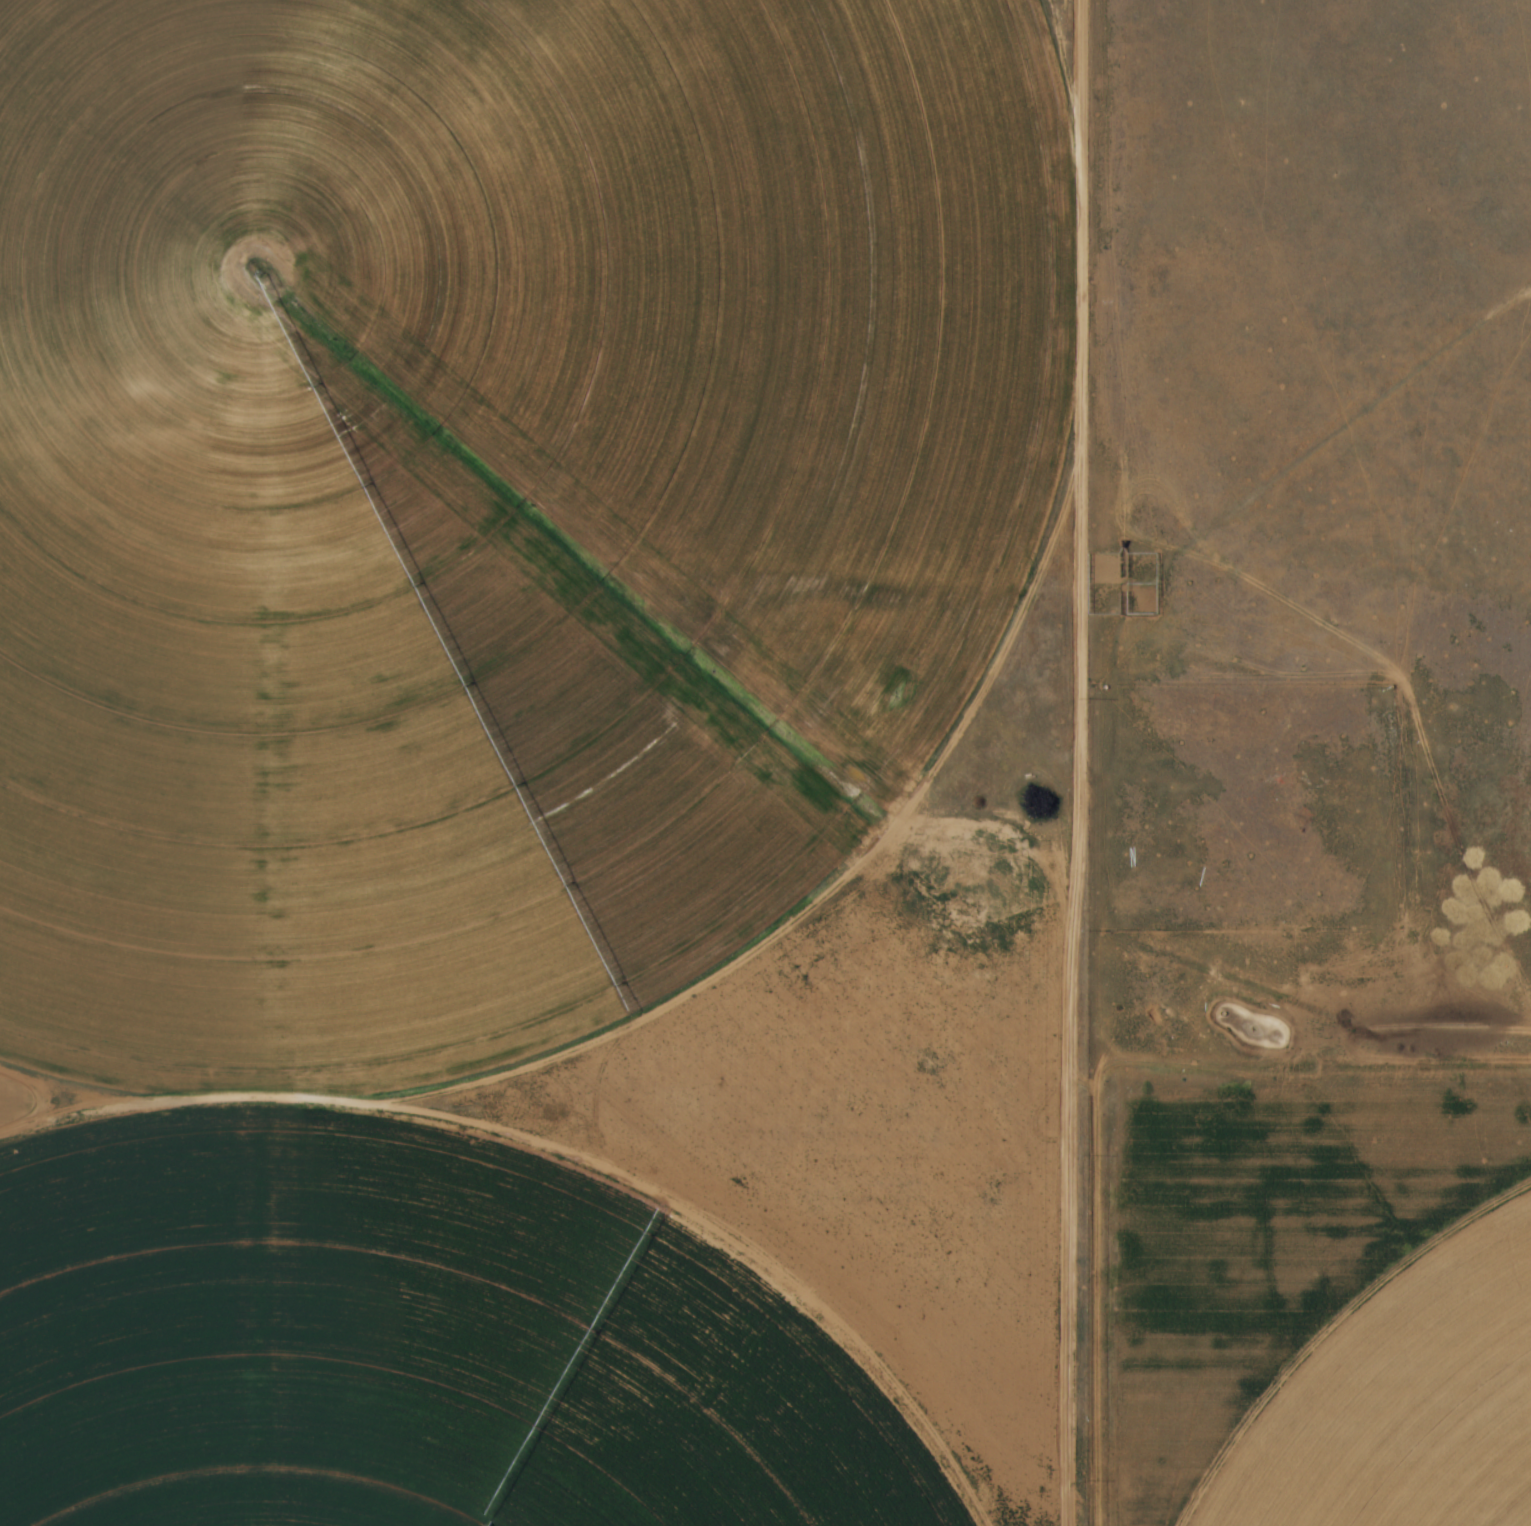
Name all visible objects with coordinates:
road: (1084, 763)

